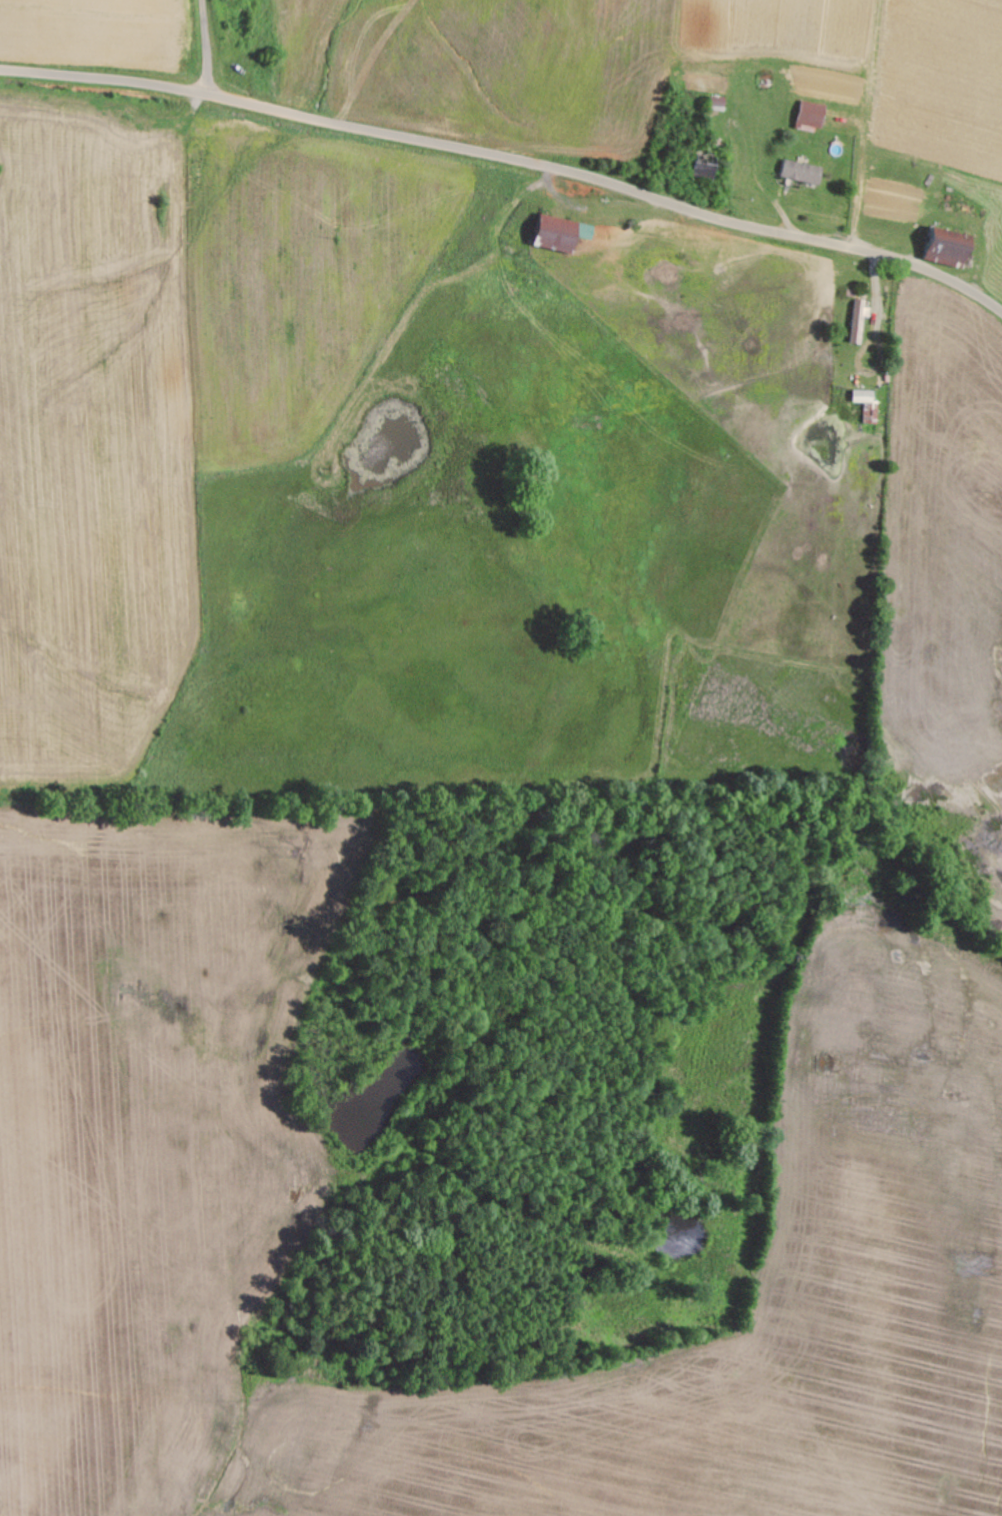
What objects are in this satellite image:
road: (206, 47)
building: (814, 113)
road: (510, 157)
building: (706, 166)
building: (805, 170)
road: (797, 171)
building: (563, 232)
building: (951, 246)
building: (860, 318)

